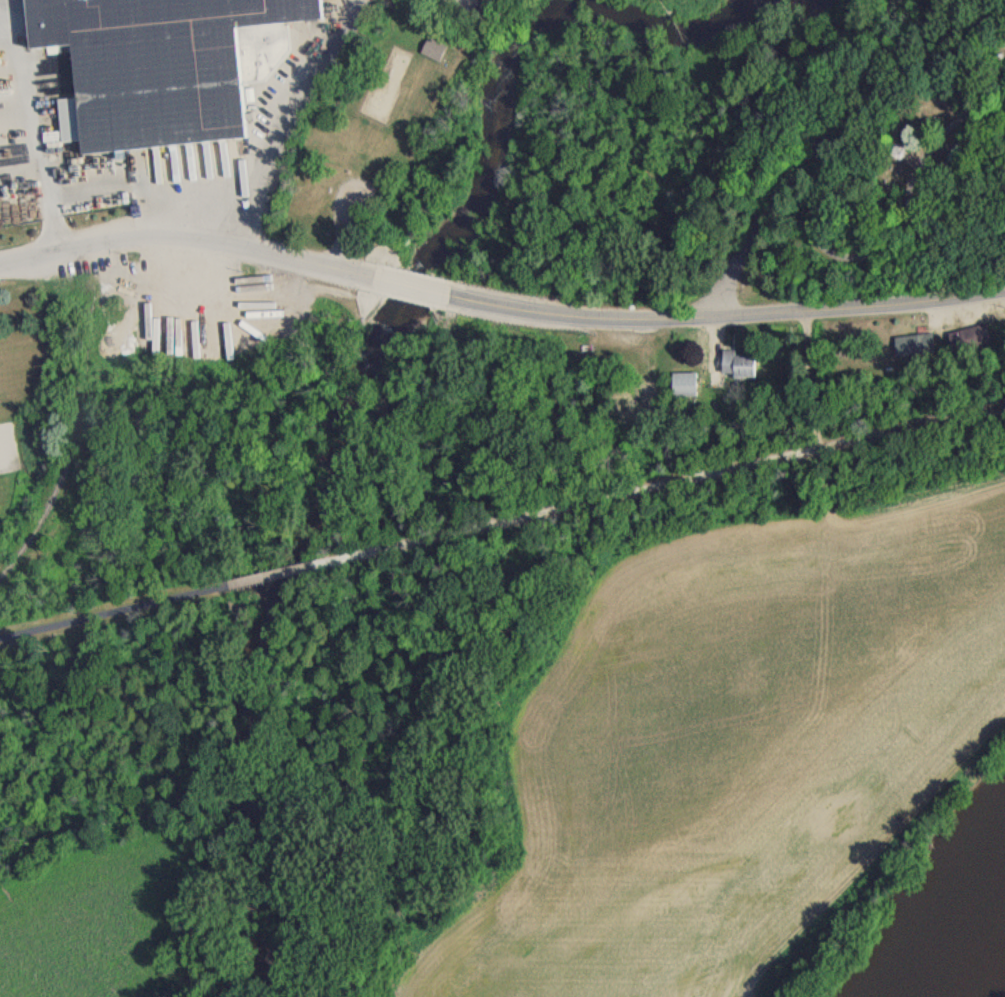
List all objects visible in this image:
building: (430, 55)
building: (158, 60)
road: (24, 122)
park: (386, 141)
road: (819, 142)
building: (891, 156)
park: (874, 167)
road: (220, 186)
road: (901, 207)
road: (193, 217)
road: (180, 237)
road: (410, 286)
building: (195, 303)
road: (732, 317)
building: (1004, 328)
building: (965, 346)
building: (910, 350)
river: (363, 369)
building: (734, 370)
building: (628, 399)
road: (912, 424)
railway: (72, 428)
road: (563, 504)
road: (261, 575)
road: (107, 610)
river: (970, 943)

